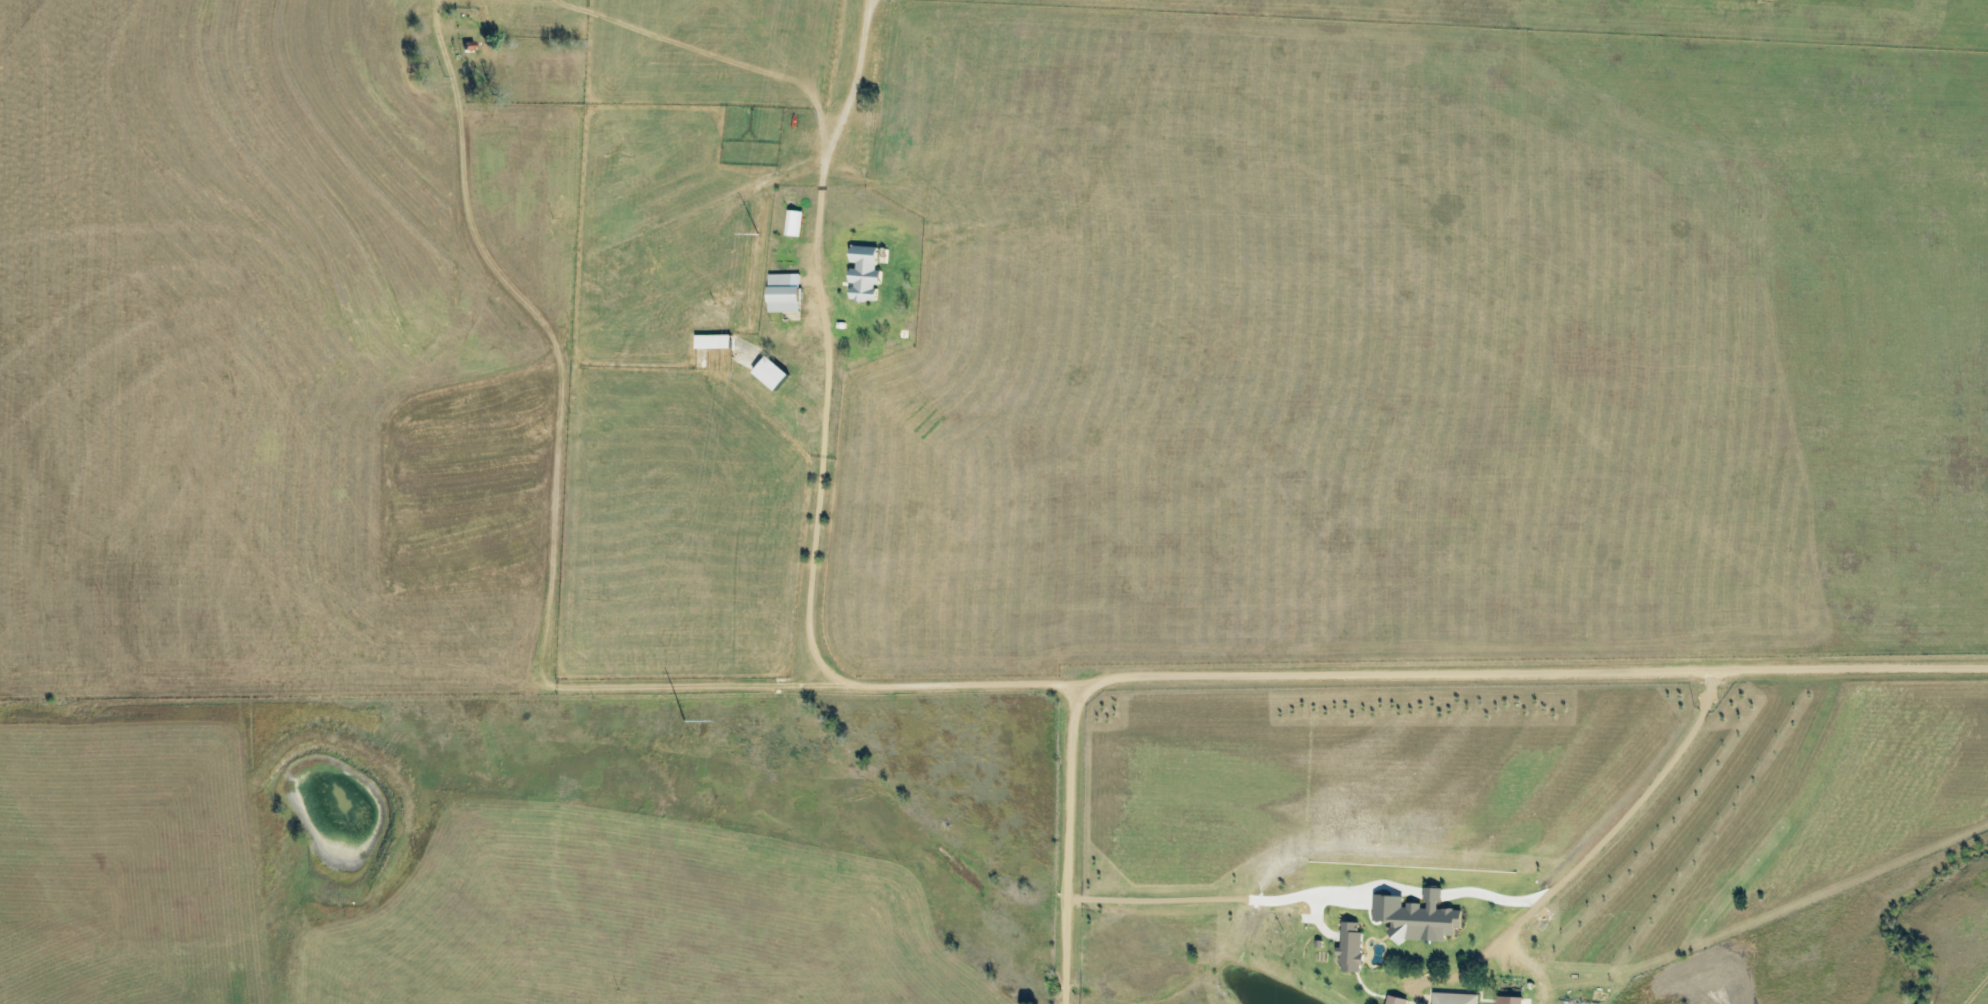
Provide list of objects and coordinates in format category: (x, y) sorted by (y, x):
building: (794, 223)
power tower: (758, 235)
building: (864, 273)
building: (783, 293)
building: (712, 341)
building: (770, 373)
road: (804, 434)
road: (1379, 671)
power tower: (684, 722)
road: (1637, 847)
building: (1417, 917)
building: (1350, 945)
building: (1454, 998)
building: (1396, 1000)
building: (1509, 1000)

